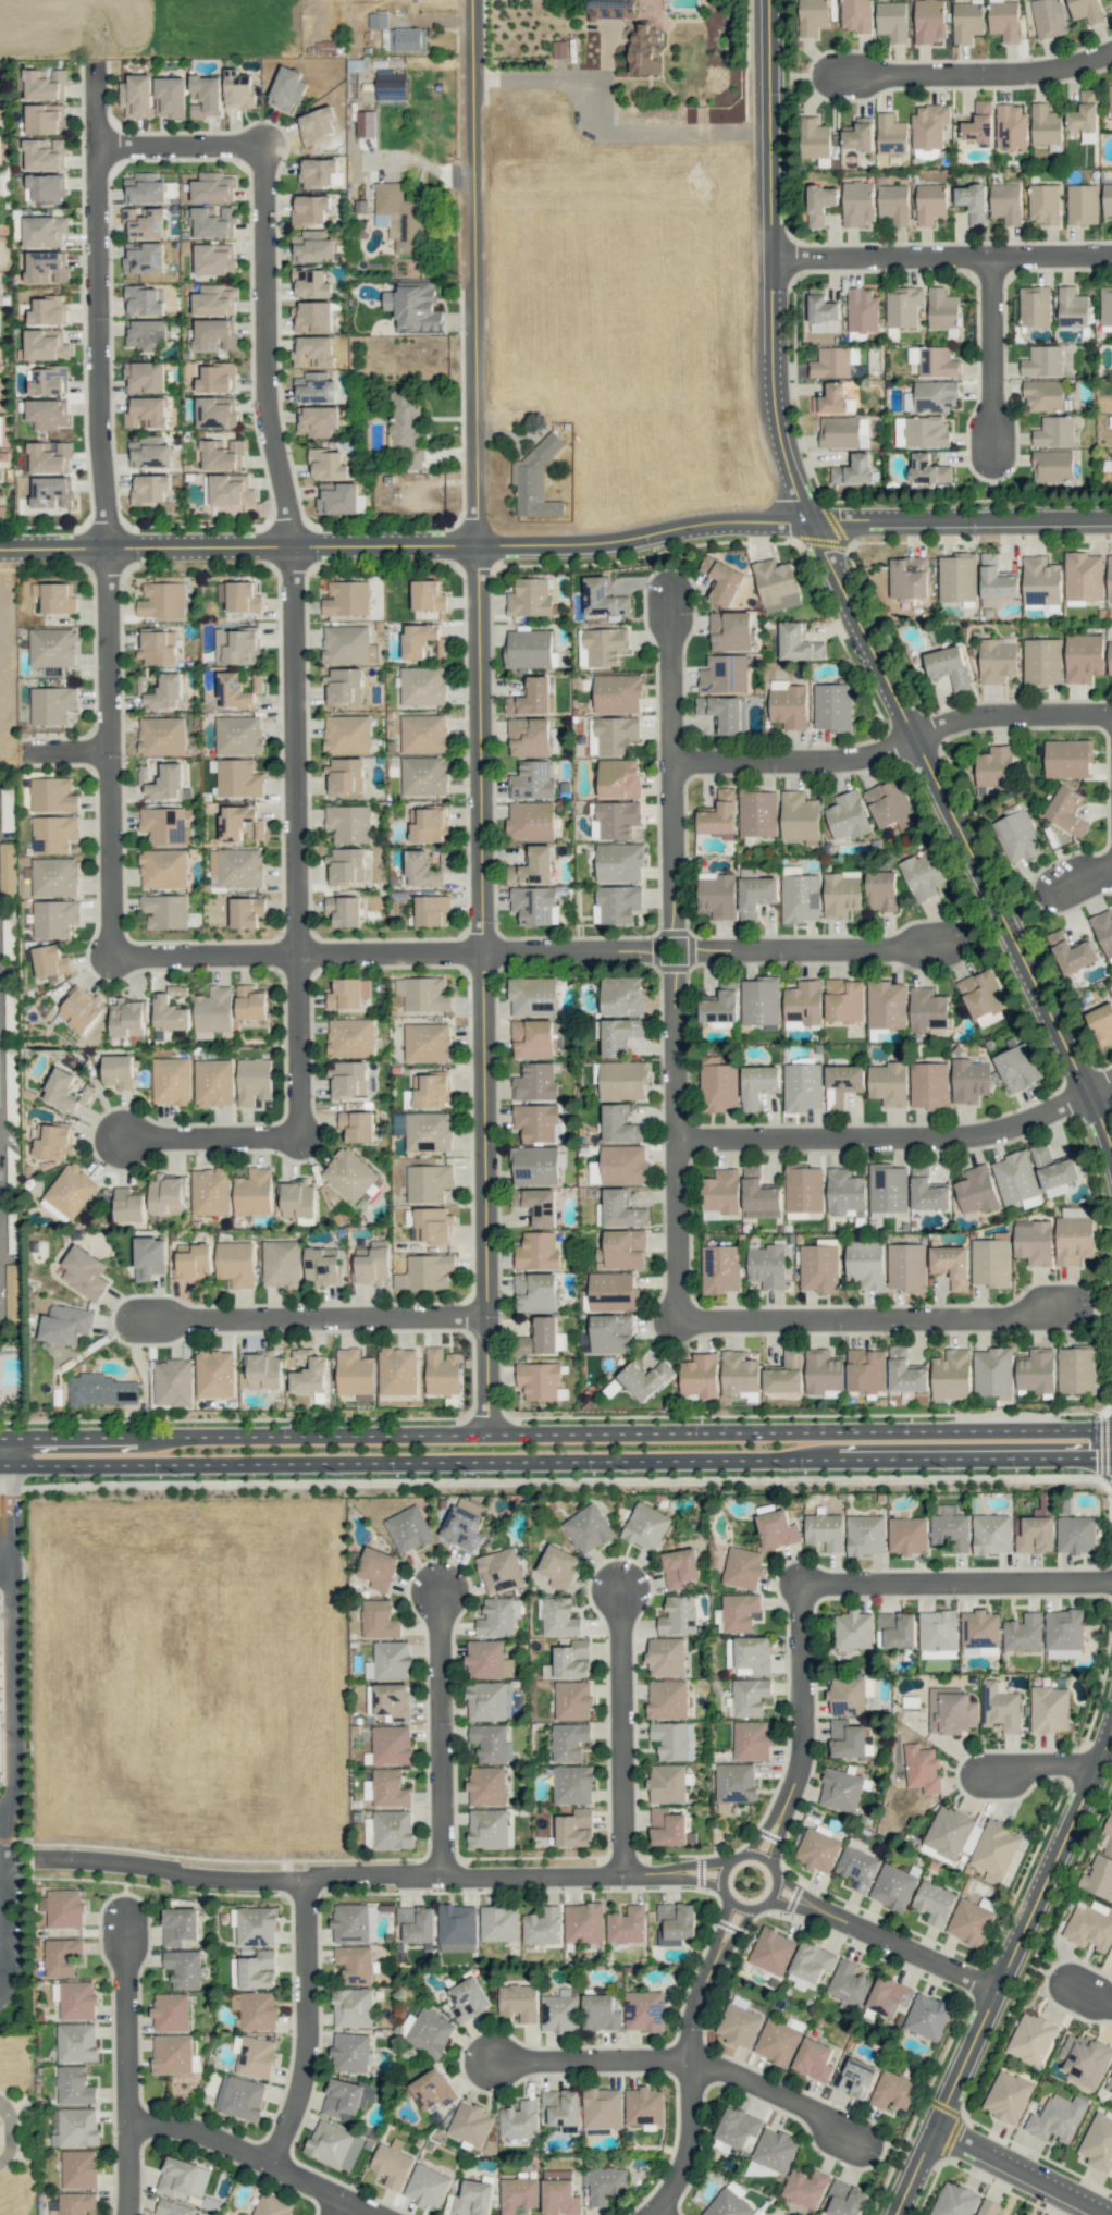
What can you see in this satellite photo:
building: (610, 9)
building: (1086, 10)
building: (856, 15)
building: (812, 16)
building: (1048, 17)
building: (1003, 20)
building: (891, 21)
building: (929, 21)
building: (966, 21)
building: (397, 35)
road: (92, 39)
building: (644, 49)
road: (977, 73)
building: (45, 84)
building: (391, 86)
building: (238, 89)
building: (286, 89)
building: (136, 96)
building: (206, 96)
building: (170, 97)
building: (1110, 99)
building: (1084, 115)
building: (44, 119)
building: (366, 123)
building: (978, 123)
building: (1045, 124)
building: (317, 125)
building: (928, 126)
building: (1011, 126)
road: (607, 131)
building: (891, 134)
building: (857, 135)
building: (814, 138)
road: (176, 144)
building: (45, 153)
road: (418, 159)
building: (317, 172)
building: (47, 187)
building: (212, 187)
building: (144, 188)
building: (1107, 199)
building: (893, 202)
building: (973, 202)
building: (1005, 202)
building: (819, 204)
building: (857, 204)
building: (930, 204)
building: (1043, 204)
building: (1082, 204)
building: (309, 209)
building: (400, 217)
building: (145, 222)
building: (213, 222)
building: (44, 231)
building: (312, 246)
road: (944, 257)
building: (144, 258)
building: (214, 259)
building: (47, 267)
building: (310, 282)
building: (145, 300)
building: (213, 300)
building: (1105, 305)
building: (413, 306)
building: (902, 306)
building: (1035, 306)
building: (1072, 307)
building: (942, 309)
building: (48, 310)
building: (862, 310)
building: (819, 311)
road: (94, 313)
building: (311, 317)
building: (213, 334)
building: (147, 335)
building: (46, 344)
road: (261, 346)
building: (313, 350)
road: (999, 356)
building: (937, 361)
building: (1042, 361)
building: (830, 362)
building: (145, 377)
building: (217, 379)
building: (313, 387)
building: (1043, 395)
building: (935, 396)
building: (215, 411)
building: (147, 413)
building: (47, 414)
building: (318, 420)
building: (406, 424)
building: (921, 431)
building: (843, 432)
building: (1054, 432)
building: (149, 453)
building: (220, 454)
building: (49, 457)
building: (328, 464)
building: (1052, 465)
building: (853, 469)
building: (927, 469)
building: (534, 483)
building: (150, 489)
building: (228, 490)
building: (51, 492)
building: (338, 499)
road: (556, 544)
building: (1083, 576)
building: (1109, 576)
building: (907, 577)
building: (957, 577)
building: (721, 579)
building: (996, 581)
building: (1040, 581)
building: (776, 584)
road: (849, 590)
building: (239, 595)
building: (428, 595)
building: (54, 598)
building: (530, 598)
building: (603, 598)
building: (346, 599)
building: (161, 600)
building: (731, 630)
building: (421, 641)
building: (799, 642)
building: (345, 644)
building: (52, 647)
building: (157, 647)
building: (235, 647)
building: (602, 647)
building: (528, 649)
building: (1083, 657)
building: (1110, 657)
building: (997, 660)
building: (1041, 661)
building: (948, 666)
building: (724, 674)
road: (675, 677)
building: (344, 685)
building: (423, 686)
building: (236, 690)
building: (165, 692)
building: (617, 693)
building: (532, 698)
building: (52, 704)
building: (788, 704)
building: (832, 706)
building: (725, 713)
road: (481, 716)
building: (423, 733)
building: (346, 734)
building: (238, 735)
building: (161, 736)
building: (529, 737)
road: (895, 747)
road: (65, 751)
road: (111, 751)
building: (1067, 759)
building: (994, 767)
building: (345, 775)
building: (424, 775)
building: (237, 778)
building: (618, 778)
building: (532, 780)
building: (166, 783)
building: (52, 795)
building: (890, 804)
building: (1067, 811)
building: (757, 813)
building: (719, 814)
building: (847, 816)
building: (800, 817)
building: (616, 819)
building: (530, 821)
building: (348, 823)
building: (429, 824)
building: (163, 825)
building: (53, 834)
building: (1017, 836)
road: (297, 841)
building: (444, 861)
building: (619, 862)
building: (346, 865)
building: (532, 866)
building: (239, 867)
building: (8, 869)
building: (163, 869)
building: (420, 870)
building: (923, 875)
road: (1087, 875)
building: (54, 877)
building: (881, 890)
building: (841, 894)
building: (717, 895)
building: (755, 895)
building: (800, 898)
building: (616, 903)
building: (344, 910)
building: (431, 910)
building: (164, 911)
building: (246, 911)
building: (54, 918)
building: (1103, 931)
road: (706, 950)
building: (1071, 952)
road: (298, 955)
building: (50, 961)
building: (347, 993)
building: (981, 993)
building: (422, 994)
building: (532, 996)
building: (621, 996)
building: (759, 1000)
building: (843, 1000)
building: (250, 1002)
building: (803, 1002)
building: (720, 1004)
building: (886, 1005)
building: (81, 1009)
building: (171, 1010)
building: (927, 1010)
building: (213, 1012)
building: (127, 1018)
building: (1101, 1023)
building: (620, 1035)
building: (350, 1037)
building: (533, 1038)
road: (677, 1041)
building: (428, 1042)
building: (1017, 1068)
building: (119, 1071)
building: (348, 1079)
building: (622, 1080)
building: (969, 1080)
building: (171, 1081)
building: (252, 1081)
building: (213, 1082)
building: (534, 1082)
building: (888, 1083)
building: (842, 1084)
building: (928, 1084)
building: (718, 1085)
building: (757, 1085)
building: (802, 1086)
building: (64, 1091)
building: (430, 1091)
building: (535, 1122)
building: (620, 1124)
building: (357, 1125)
building: (428, 1131)
road: (900, 1137)
road: (212, 1139)
building: (53, 1142)
building: (534, 1165)
building: (623, 1165)
building: (1053, 1169)
building: (348, 1174)
building: (1014, 1178)
building: (428, 1182)
building: (887, 1188)
building: (803, 1189)
building: (976, 1190)
building: (927, 1191)
building: (210, 1192)
building: (254, 1192)
building: (720, 1192)
building: (844, 1192)
building: (69, 1193)
building: (165, 1195)
building: (758, 1195)
building: (298, 1199)
building: (536, 1204)
building: (128, 1205)
building: (619, 1210)
building: (432, 1226)
building: (1074, 1239)
building: (1034, 1242)
building: (621, 1250)
building: (538, 1251)
building: (149, 1257)
building: (195, 1262)
building: (235, 1263)
building: (990, 1263)
building: (281, 1264)
building: (373, 1264)
building: (865, 1264)
building: (323, 1265)
building: (951, 1265)
building: (767, 1266)
building: (906, 1267)
building: (818, 1268)
building: (720, 1269)
building: (425, 1271)
building: (84, 1272)
building: (611, 1291)
building: (12, 1292)
building: (535, 1292)
road: (313, 1319)
road: (865, 1320)
building: (65, 1324)
building: (610, 1333)
building: (539, 1338)
building: (1076, 1369)
building: (397, 1370)
building: (866, 1370)
building: (1036, 1370)
building: (261, 1371)
building: (442, 1371)
building: (823, 1371)
building: (905, 1371)
building: (992, 1371)
building: (354, 1373)
building: (738, 1373)
building: (784, 1373)
building: (214, 1374)
building: (308, 1374)
building: (951, 1374)
building: (699, 1376)
building: (645, 1378)
building: (539, 1380)
building: (172, 1382)
building: (102, 1390)
road: (556, 1433)
road: (69, 1449)
road: (557, 1462)
road: (1, 1464)
building: (645, 1526)
building: (460, 1528)
building: (588, 1528)
building: (950, 1528)
building: (1036, 1528)
building: (408, 1529)
building: (777, 1529)
building: (824, 1530)
building: (991, 1534)
building: (1076, 1534)
building: (865, 1535)
building: (906, 1536)
building: (558, 1566)
building: (680, 1566)
building: (378, 1567)
building: (742, 1567)
building: (499, 1570)
road: (1, 1575)
road: (956, 1580)
building: (737, 1612)
building: (498, 1616)
building: (557, 1617)
building: (379, 1620)
building: (897, 1628)
building: (853, 1629)
building: (938, 1629)
building: (1023, 1633)
building: (1064, 1634)
building: (938, 1653)
building: (752, 1656)
building: (665, 1657)
building: (391, 1660)
building: (487, 1660)
building: (569, 1660)
building: (847, 1695)
building: (747, 1697)
building: (667, 1699)
building: (392, 1700)
building: (572, 1700)
building: (489, 1701)
building: (1000, 1707)
building: (1049, 1709)
building: (951, 1711)
road: (11, 1727)
road: (441, 1728)
road: (621, 1728)
building: (848, 1738)
building: (674, 1740)
building: (751, 1740)
building: (568, 1742)
building: (491, 1743)
building: (391, 1745)
building: (0, 1762)
road: (1039, 1763)
building: (922, 1768)
building: (667, 1783)
building: (734, 1783)
building: (572, 1784)
building: (486, 1786)
building: (386, 1788)
building: (841, 1789)
building: (1111, 1811)
road: (0, 1817)
building: (487, 1828)
building: (669, 1828)
building: (574, 1829)
building: (391, 1830)
building: (948, 1832)
building: (1109, 1843)
building: (817, 1850)
building: (994, 1850)
building: (856, 1868)
road: (524, 1875)
building: (1099, 1878)
building: (892, 1887)
parking lot: (11, 1896)
road: (733, 1900)
building: (934, 1903)
building: (63, 1907)
building: (348, 1922)
building: (499, 1922)
building: (583, 1922)
building: (969, 1922)
building: (416, 1923)
building: (675, 1923)
building: (627, 1924)
building: (180, 1925)
building: (254, 1925)
building: (1090, 1925)
building: (543, 1927)
building: (457, 1928)
building: (771, 1951)
building: (61, 1957)
building: (355, 1964)
building: (810, 1965)
building: (184, 1968)
building: (258, 1970)
road: (1003, 1970)
building: (848, 1985)
road: (1095, 1994)
building: (888, 1996)
building: (77, 1999)
building: (468, 1999)
building: (518, 2002)
building: (353, 2007)
building: (258, 2010)
building: (643, 2010)
building: (171, 2011)
building: (559, 2011)
building: (600, 2013)
building: (927, 2017)
road: (305, 2025)
building: (739, 2026)
building: (429, 2032)
building: (1031, 2039)
building: (777, 2041)
building: (76, 2042)
building: (349, 2052)
building: (172, 2054)
building: (256, 2056)
road: (588, 2059)
building: (814, 2059)
building: (1085, 2059)
road: (126, 2065)
building: (854, 2078)
building: (74, 2085)
building: (433, 2090)
building: (892, 2090)
road: (780, 2094)
building: (346, 2096)
building: (1006, 2096)
building: (239, 2097)
building: (561, 2106)
building: (643, 2106)
building: (602, 2107)
road: (3, 2108)
building: (1057, 2118)
building: (519, 2120)
building: (470, 2124)
building: (75, 2127)
building: (737, 2127)
road: (10, 2138)
building: (1098, 2143)
building: (333, 2145)
building: (775, 2150)
road: (254, 2158)
building: (79, 2169)
road: (1024, 2171)
building: (182, 2178)
building: (606, 2185)
building: (427, 2186)
building: (805, 2188)
building: (559, 2193)
building: (518, 2194)
building: (472, 2199)
building: (843, 2199)
building: (955, 2200)
building: (73, 2203)
building: (728, 2204)
building: (272, 2205)
building: (173, 2207)
road: (339, 2207)
building: (988, 2207)
road: (660, 2210)

